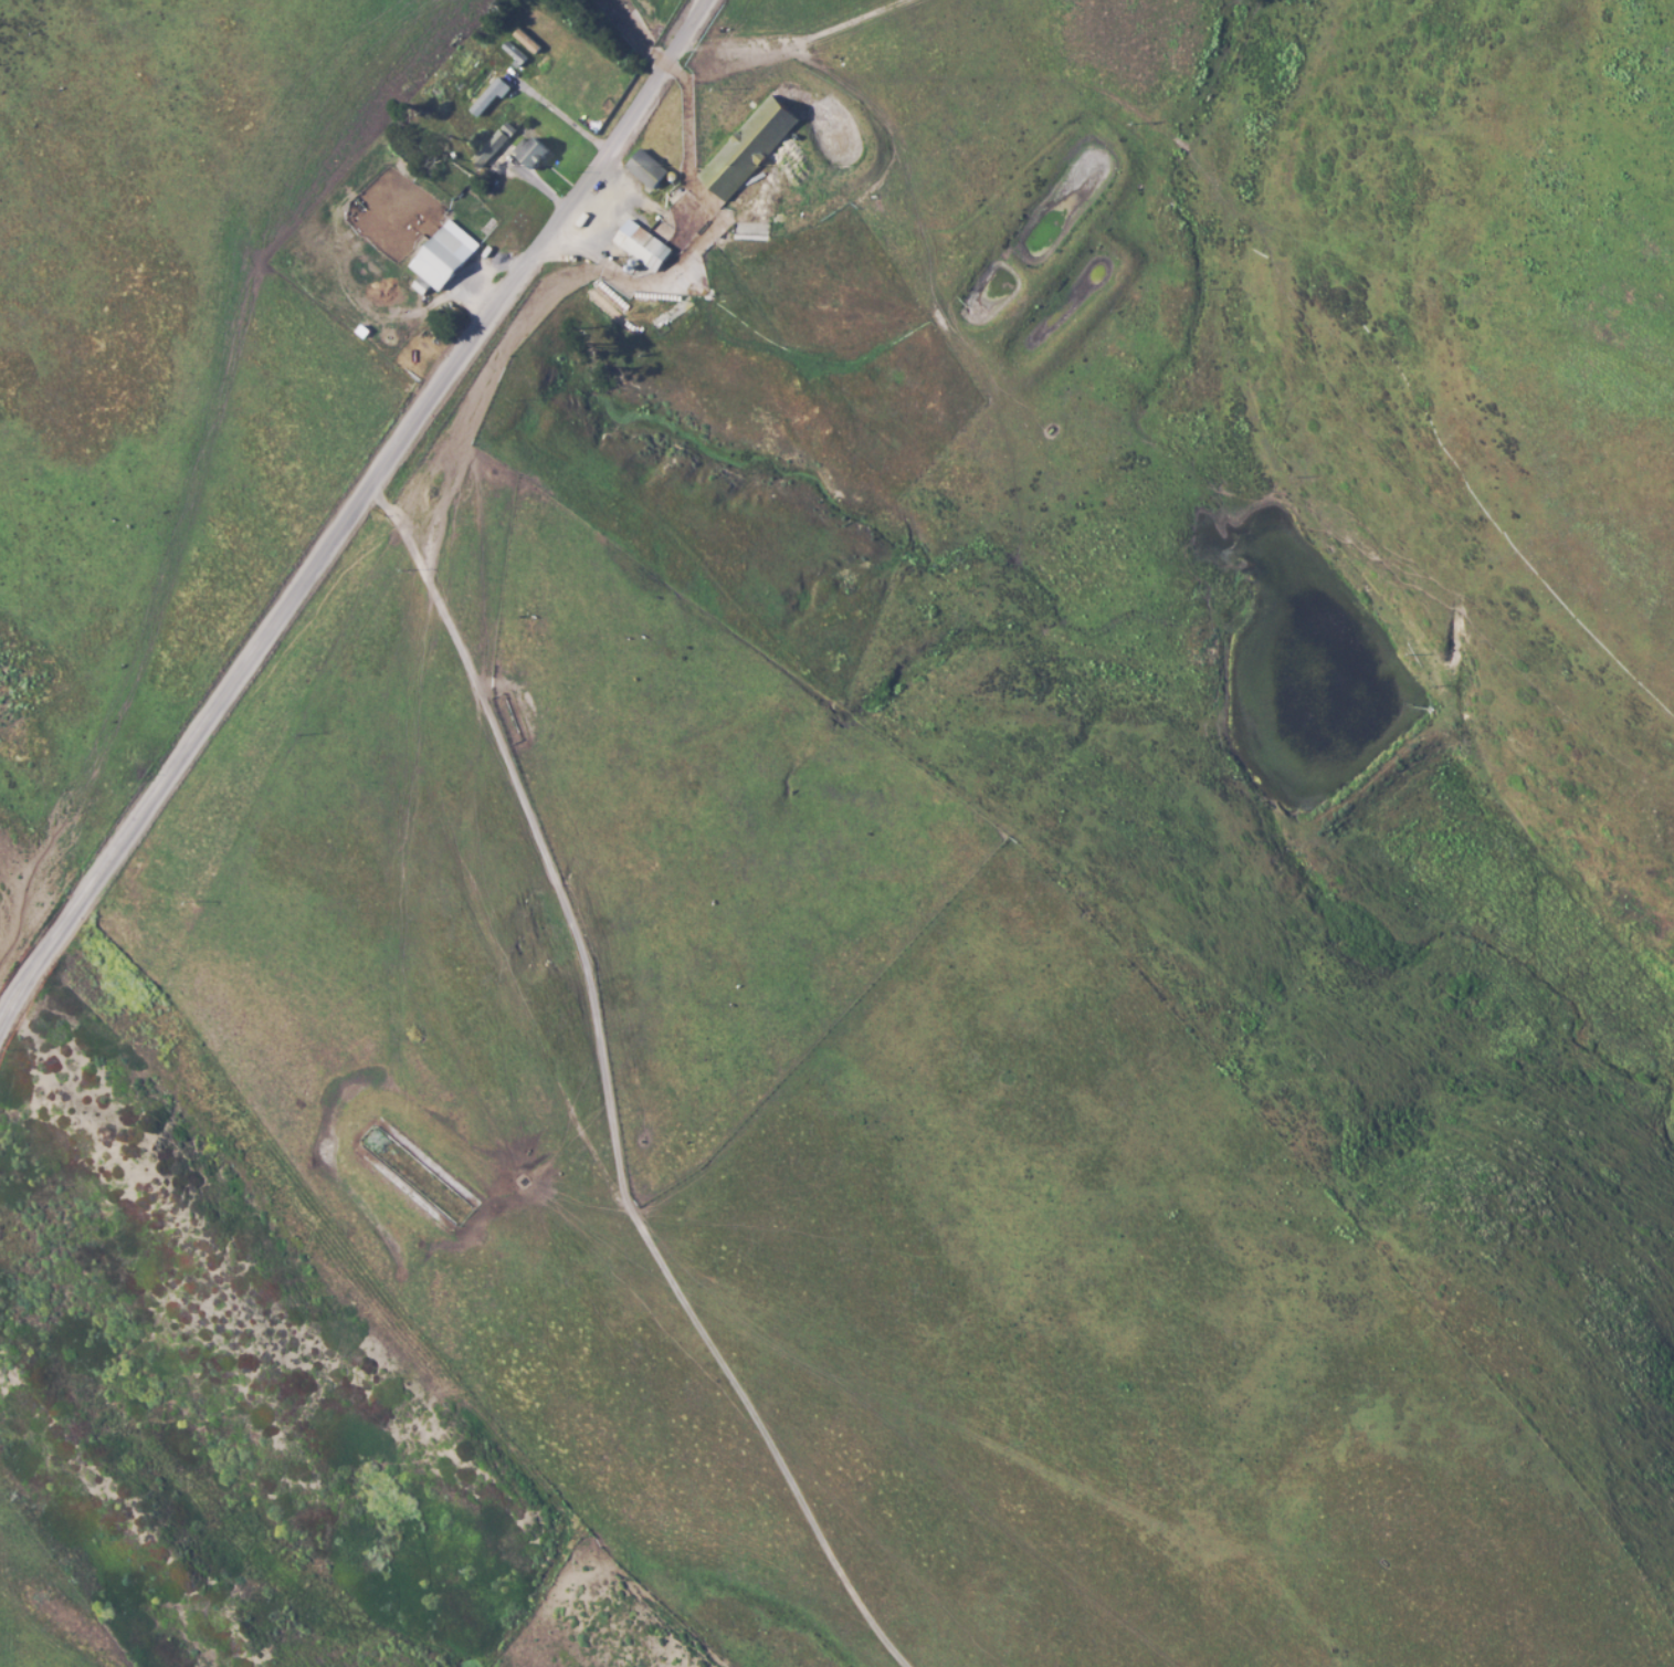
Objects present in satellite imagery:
road: (794, 43)
building: (488, 147)
building: (530, 150)
building: (641, 244)
building: (443, 254)
road: (352, 510)
road: (609, 1091)

